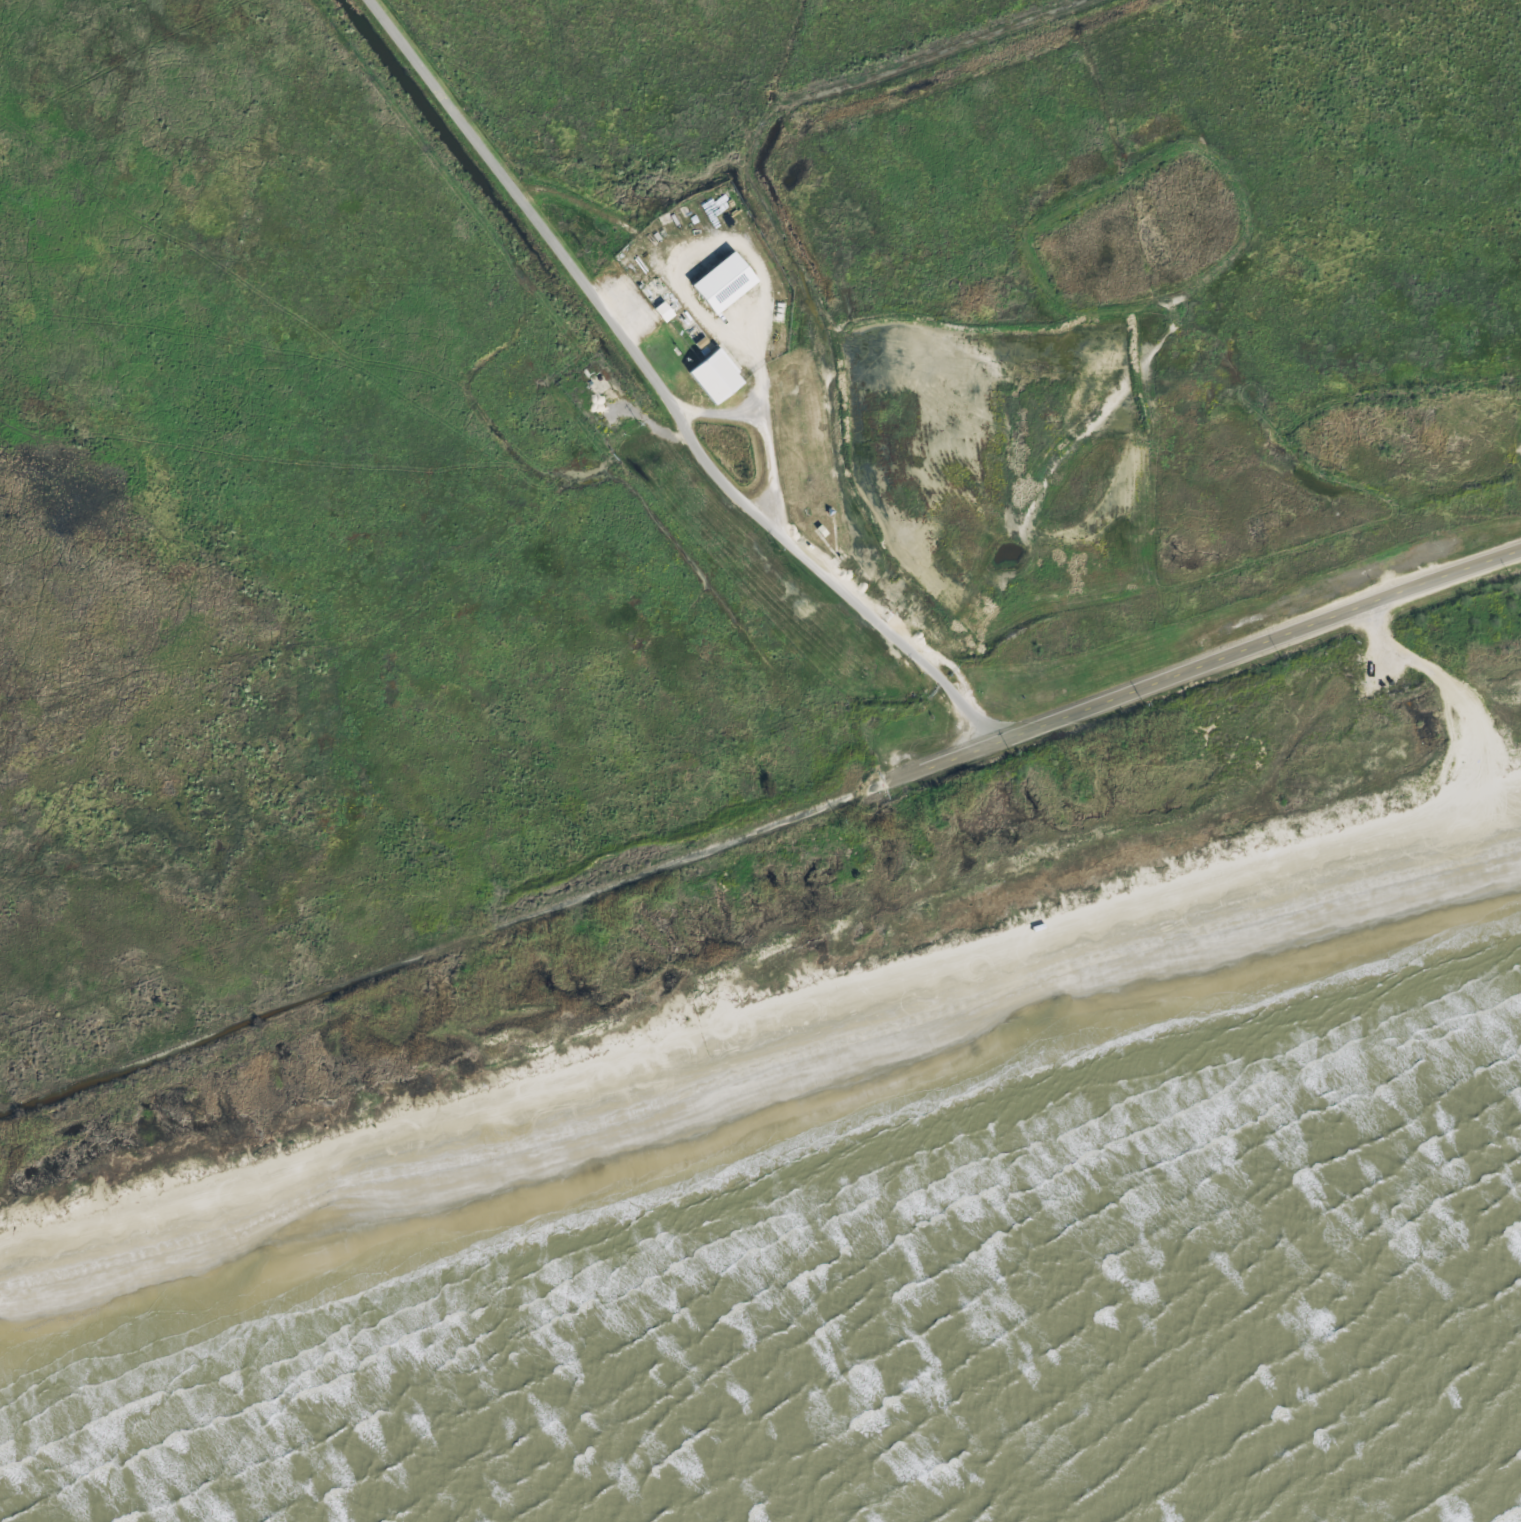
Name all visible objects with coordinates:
building: (721, 283)
building: (712, 376)
road: (661, 392)
road: (1259, 646)
road: (499, 930)

